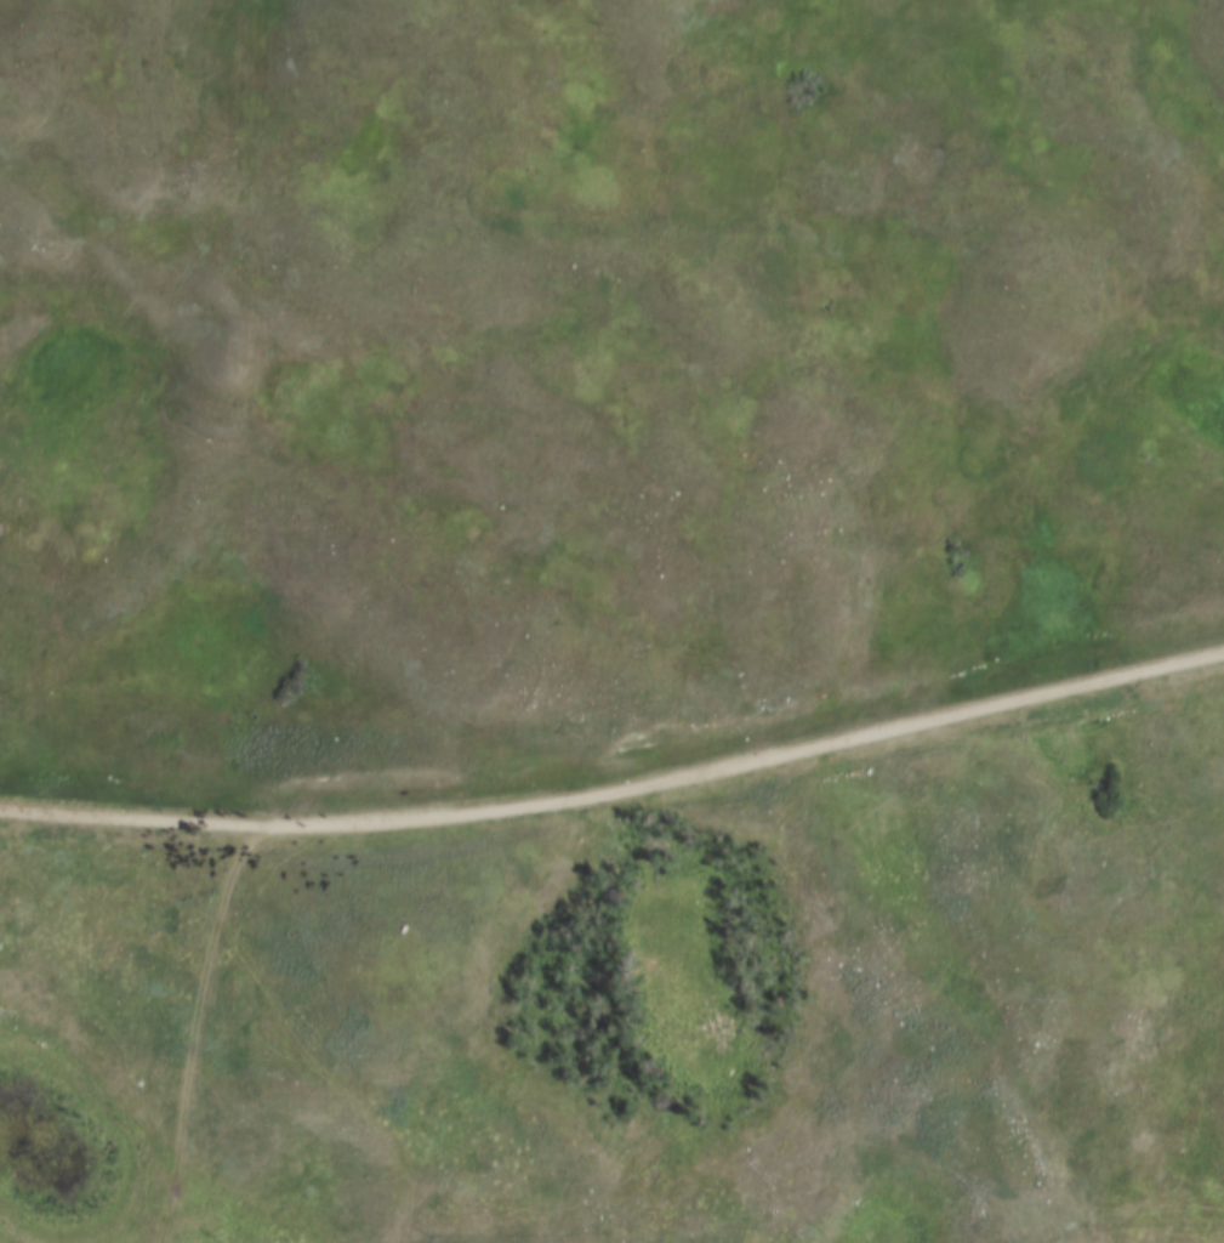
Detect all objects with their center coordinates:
road: (617, 782)

